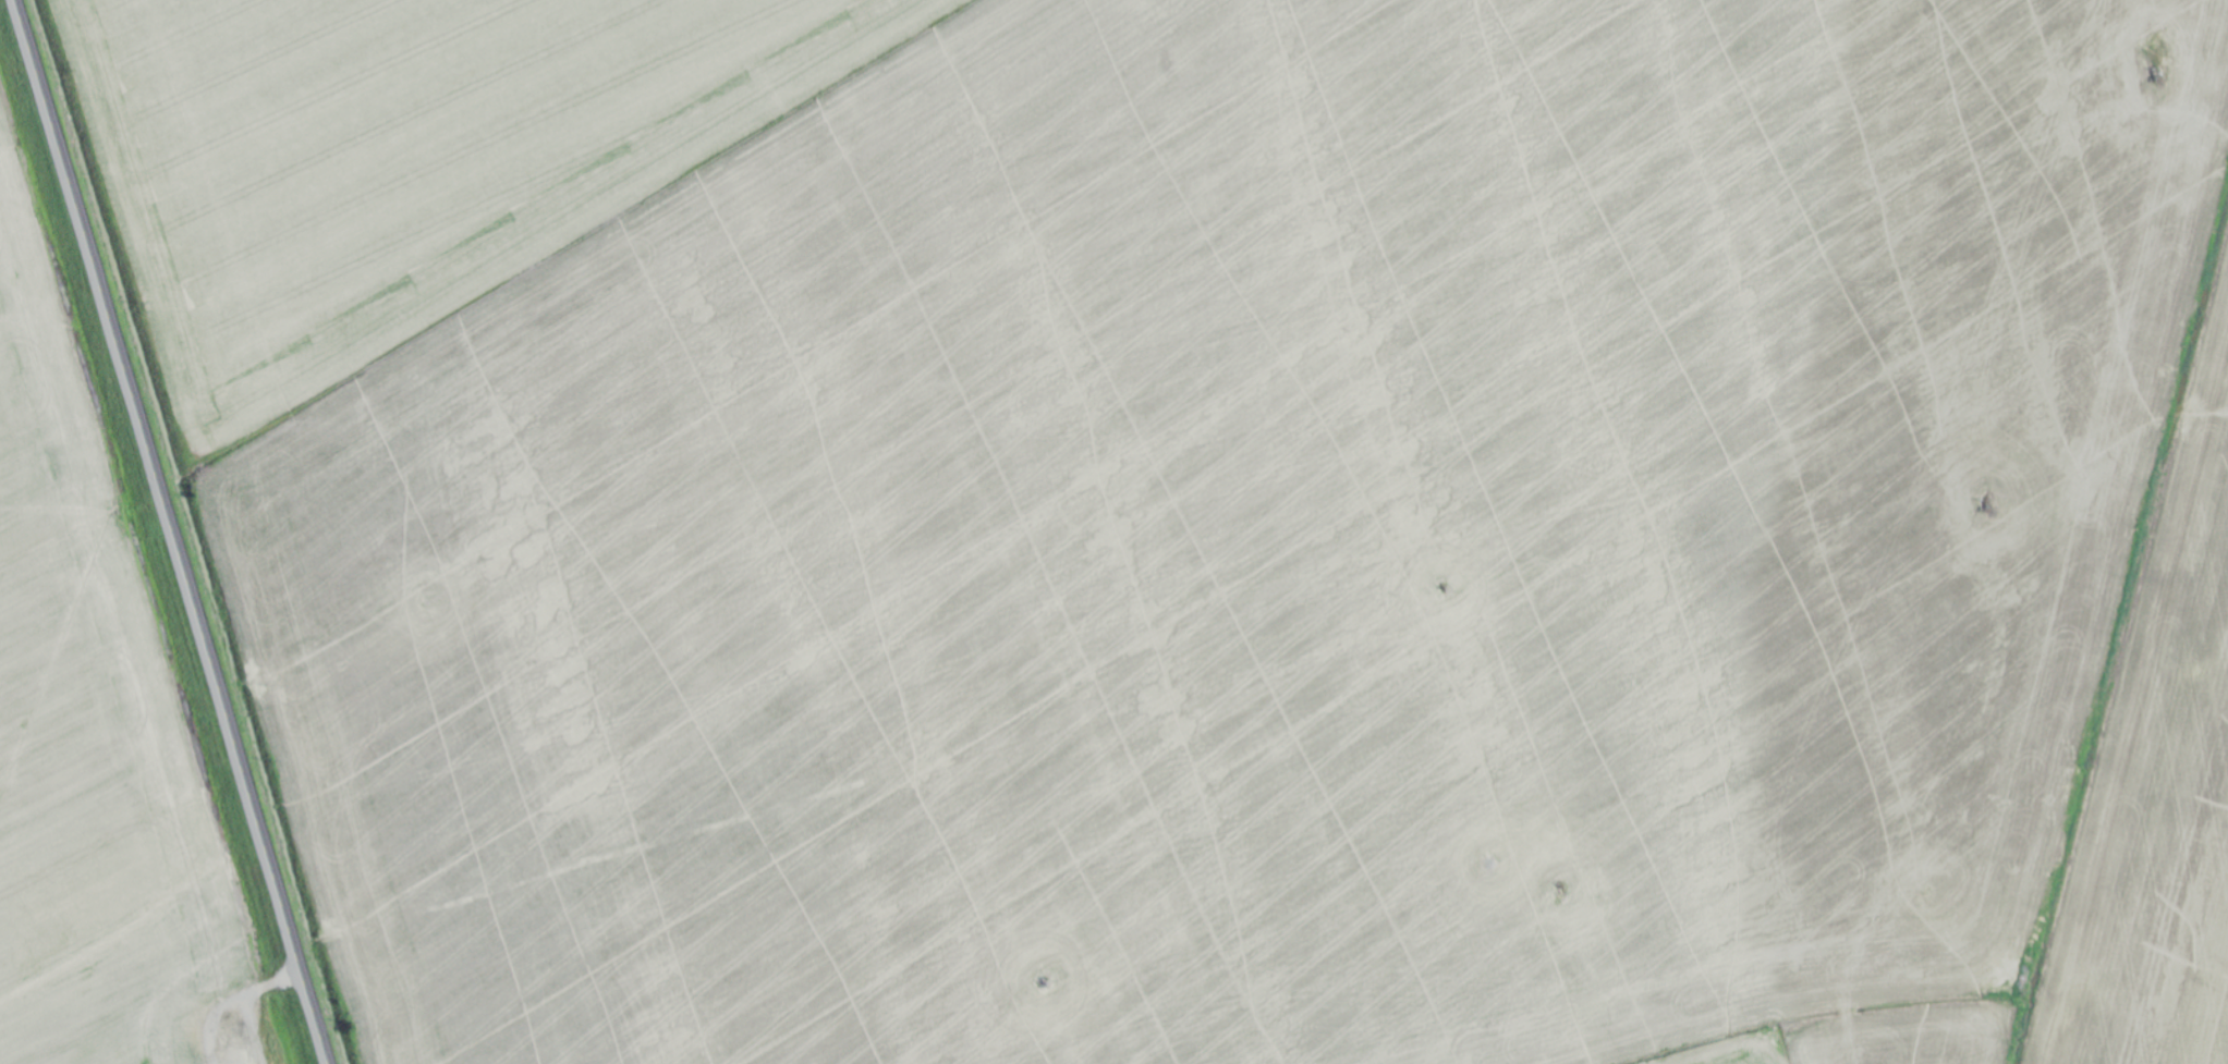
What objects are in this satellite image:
road: (169, 531)

